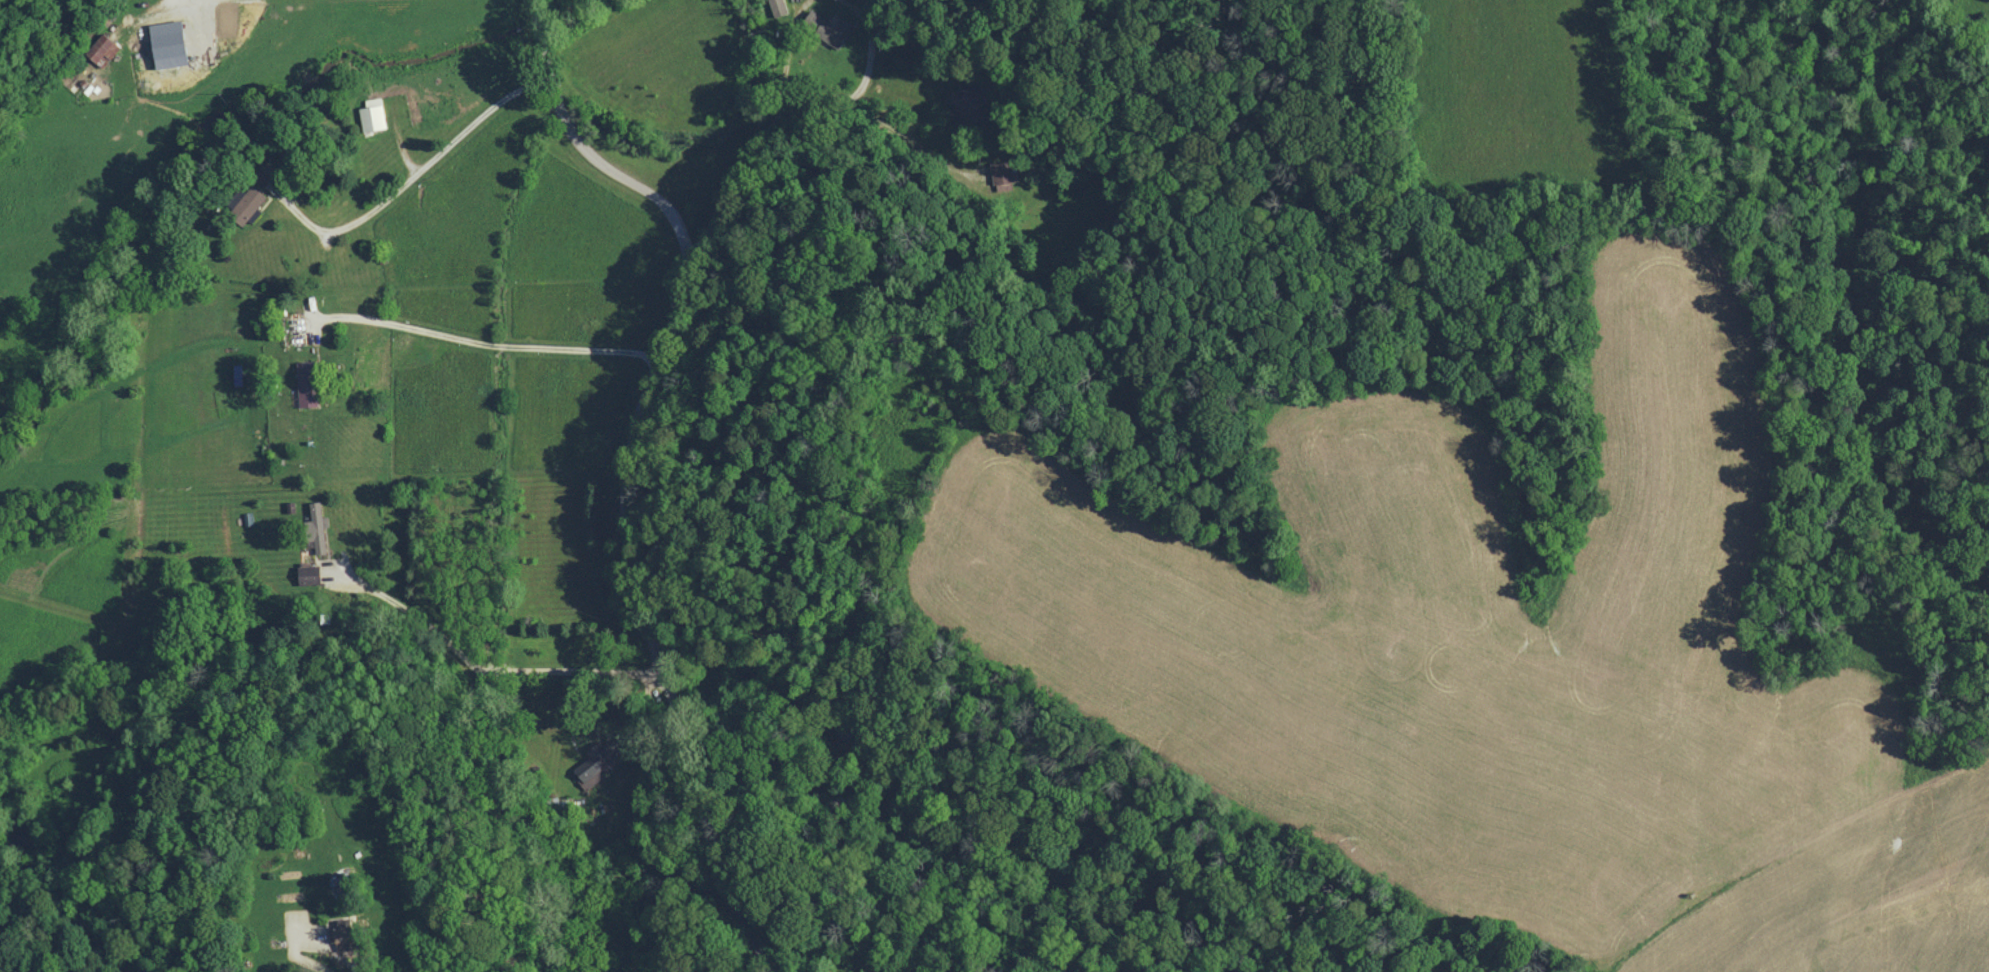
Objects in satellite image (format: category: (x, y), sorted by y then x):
road: (183, 0)
building: (779, 8)
building: (828, 28)
building: (102, 49)
road: (868, 58)
building: (963, 106)
building: (373, 114)
road: (909, 140)
road: (750, 164)
building: (1001, 172)
road: (417, 176)
building: (249, 204)
road: (478, 344)
building: (308, 383)
road: (625, 466)
building: (317, 527)
building: (310, 575)
road: (415, 618)
road: (467, 731)
building: (596, 763)
building: (342, 933)
road: (293, 953)

